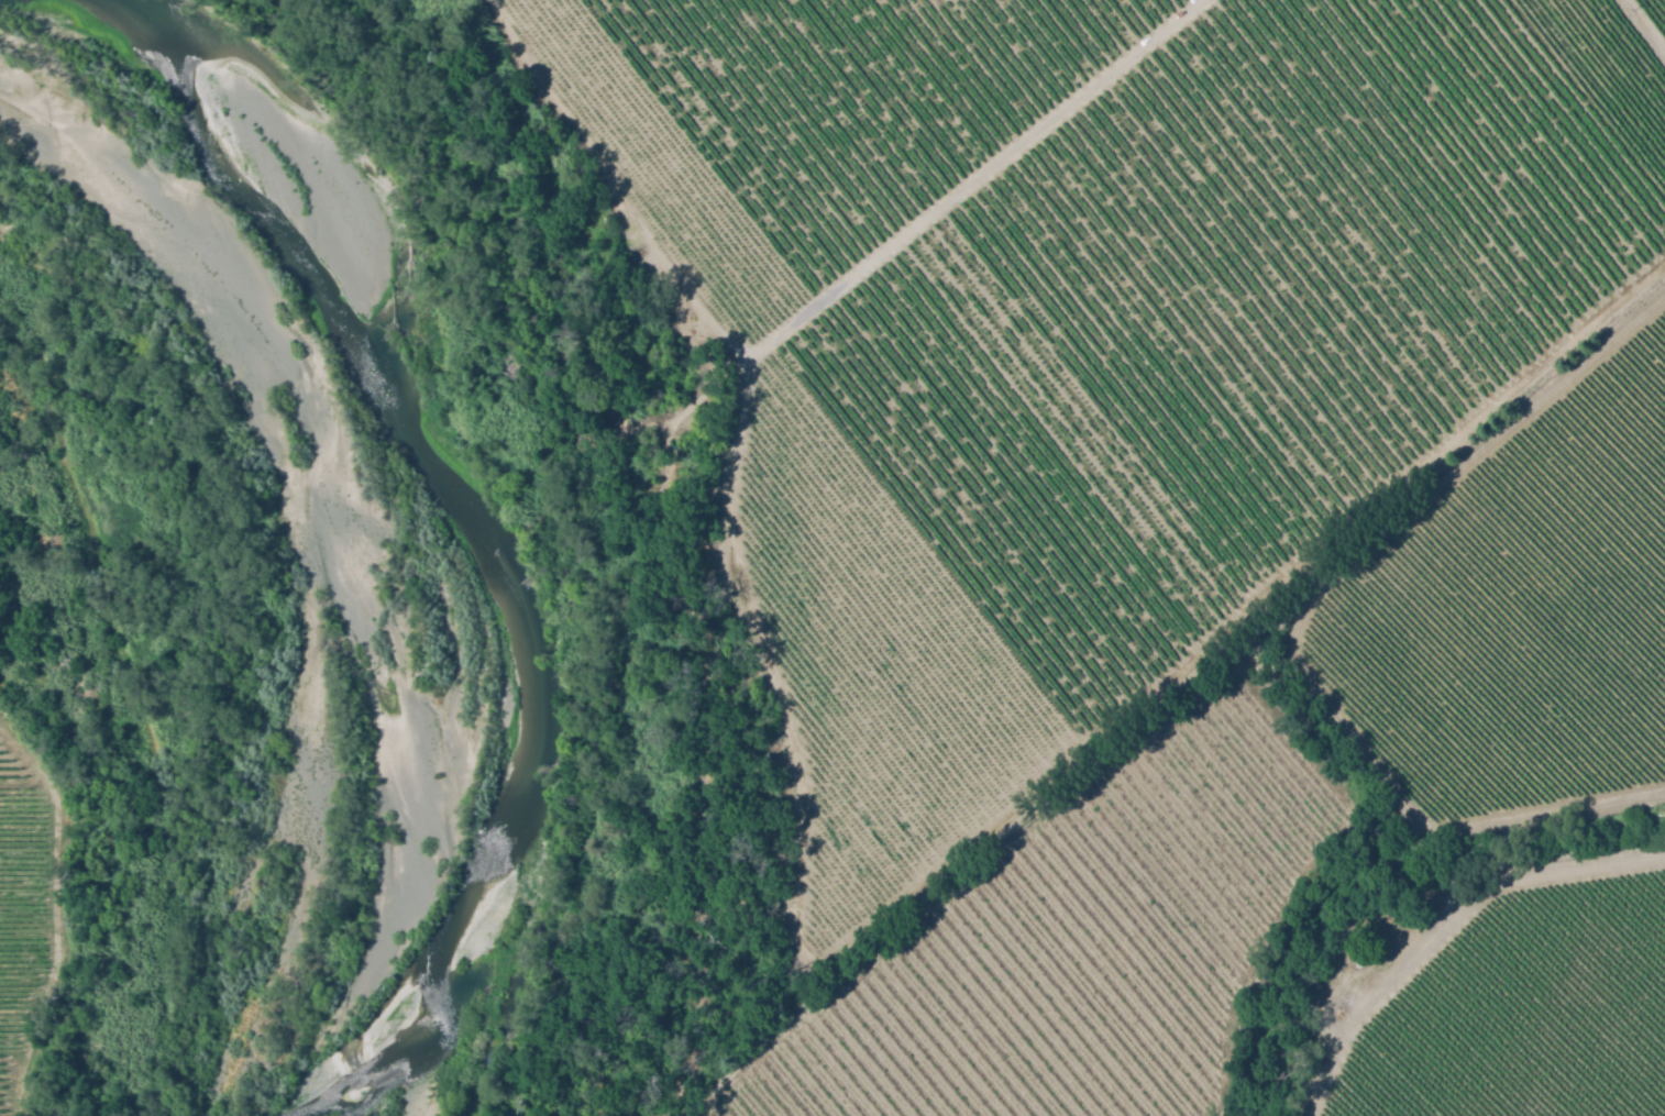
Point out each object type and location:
river: (410, 473)
road: (54, 911)

